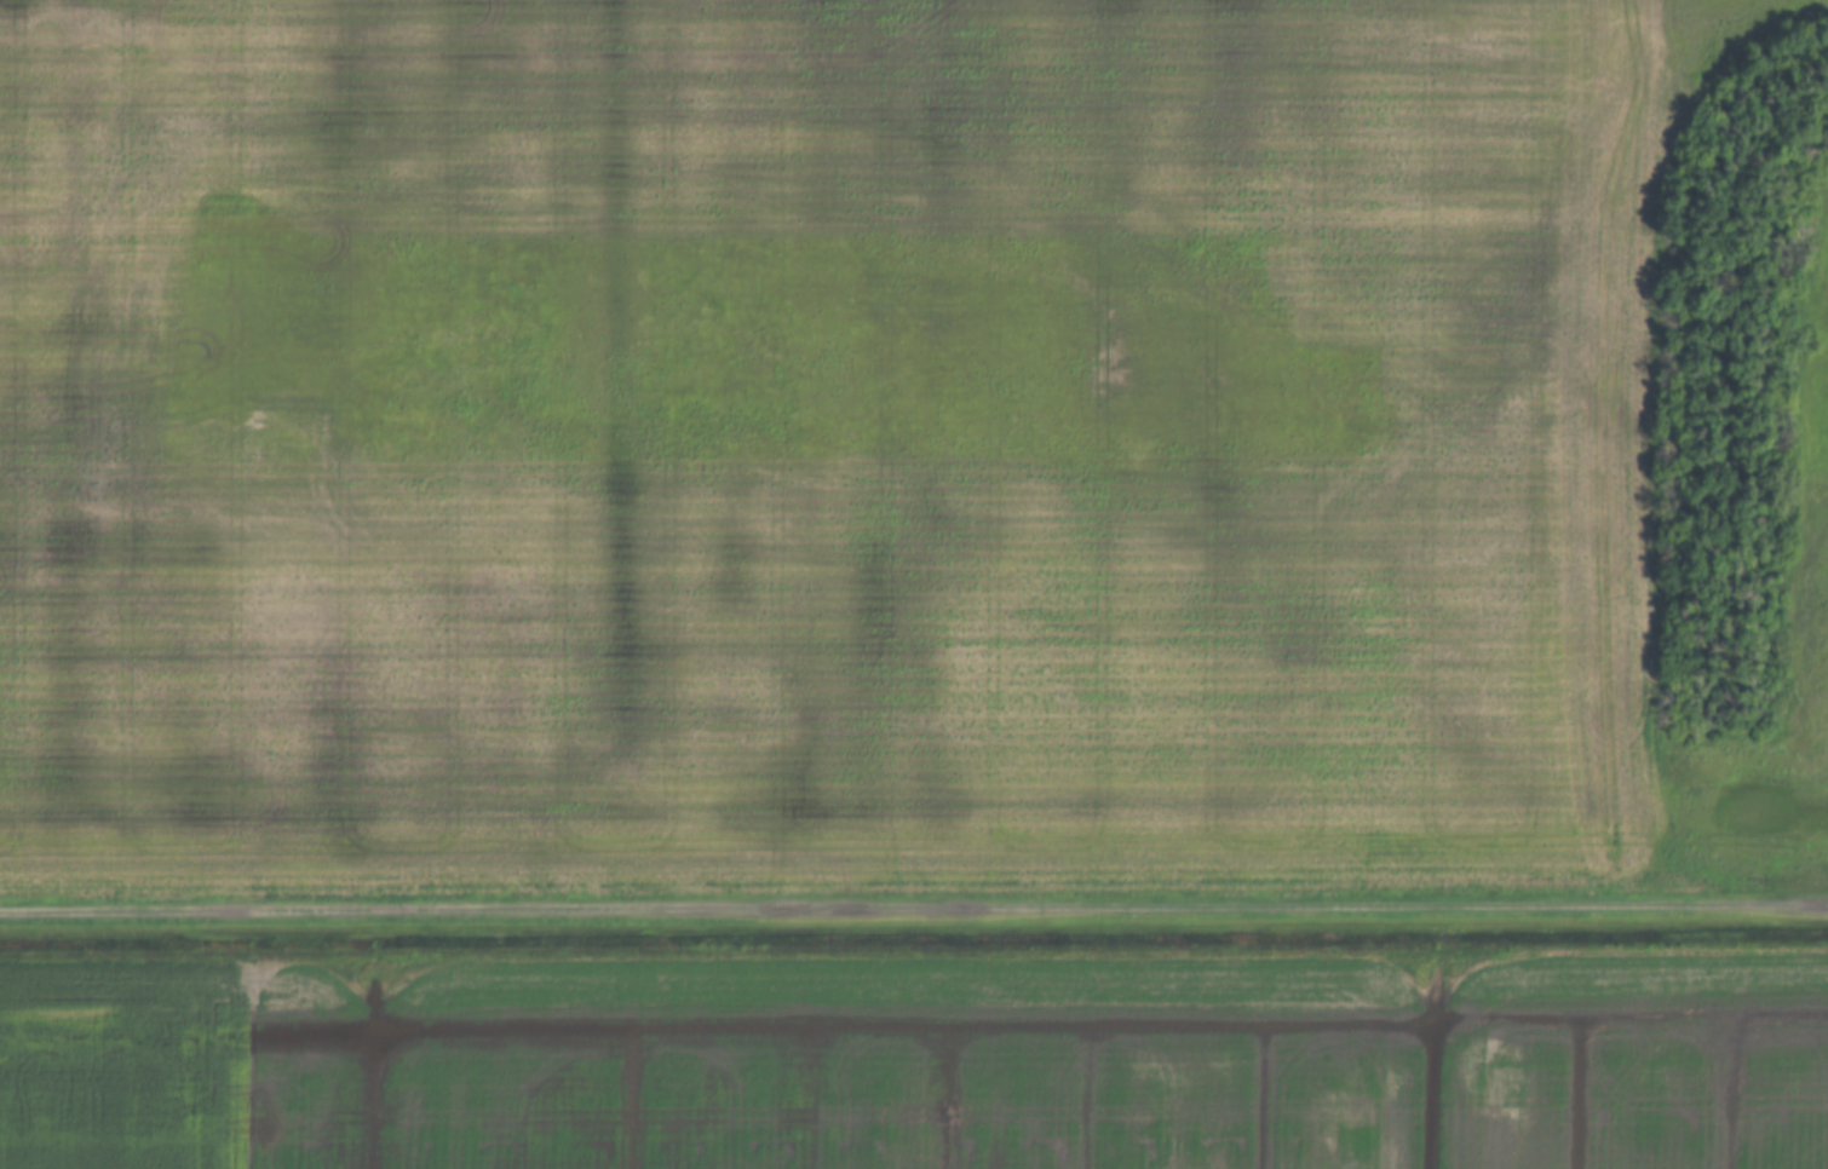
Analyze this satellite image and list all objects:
crop: (861, 448)
road: (914, 910)
crop: (111, 1064)
crop: (1030, 1064)

